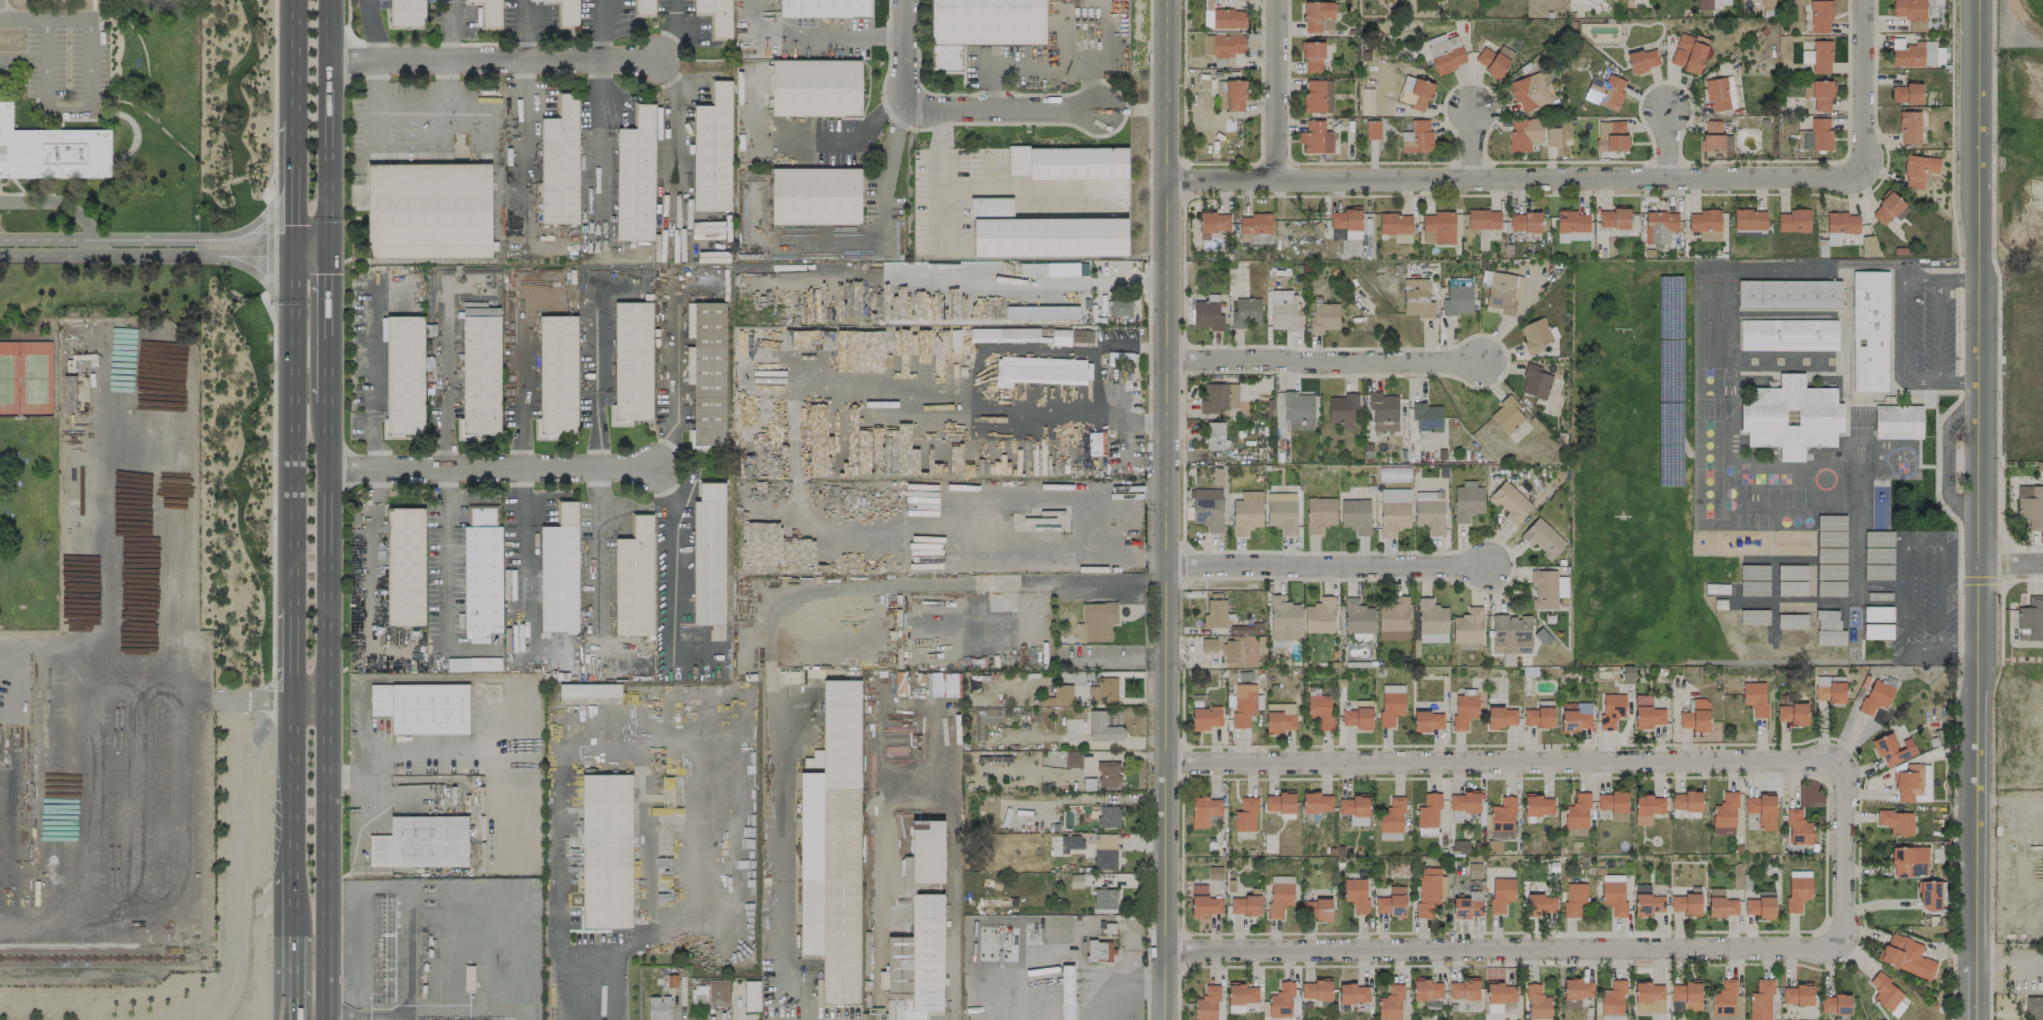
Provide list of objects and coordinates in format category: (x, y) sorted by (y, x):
building: (535, 0)
building: (1720, 3)
building: (1768, 3)
building: (1704, 4)
building: (643, 7)
building: (824, 8)
building: (1909, 9)
building: (407, 12)
building: (490, 12)
building: (566, 12)
building: (1820, 15)
building: (1318, 16)
building: (716, 17)
road: (44, 18)
building: (1224, 18)
building: (982, 26)
road: (455, 29)
road: (520, 29)
road: (600, 29)
road: (373, 30)
road: (846, 37)
road: (903, 38)
building: (1224, 44)
building: (1688, 52)
building: (1445, 53)
building: (1915, 53)
building: (1312, 56)
building: (1818, 56)
road: (493, 59)
building: (1493, 59)
building: (1642, 60)
parking lot: (66, 64)
road: (666, 80)
building: (817, 88)
road: (1863, 88)
road: (1277, 89)
building: (1605, 91)
building: (1417, 92)
building: (1529, 92)
building: (1719, 92)
building: (1906, 93)
building: (1230, 94)
building: (1318, 95)
building: (1821, 95)
road: (273, 97)
road: (991, 109)
road: (67, 111)
road: (417, 115)
road: (296, 122)
road: (327, 122)
building: (1910, 127)
building: (1372, 129)
road: (673, 130)
road: (812, 132)
building: (1524, 133)
building: (1611, 135)
building: (1815, 135)
road: (1951, 135)
building: (1552, 136)
building: (1316, 137)
building: (1417, 137)
building: (1715, 137)
road: (1472, 141)
road: (1669, 144)
park: (2018, 150)
building: (52, 151)
building: (713, 151)
building: (562, 162)
building: (1067, 162)
building: (1919, 170)
building: (636, 177)
road: (1515, 177)
road: (939, 178)
road: (1018, 185)
building: (816, 197)
road: (59, 202)
building: (1888, 208)
building: (429, 212)
building: (1613, 218)
building: (1483, 219)
building: (1749, 219)
building: (1793, 220)
building: (1524, 221)
building: (1347, 222)
building: (1212, 223)
building: (1395, 223)
building: (1705, 224)
building: (1572, 225)
building: (1840, 225)
road: (248, 226)
building: (1659, 226)
building: (1256, 227)
building: (1437, 227)
building: (1041, 232)
road: (147, 243)
road: (867, 244)
traffic signals: (295, 245)
road: (311, 245)
traffic signals: (327, 245)
building: (1869, 245)
road: (268, 246)
road: (148, 252)
road: (253, 272)
road: (1958, 279)
road: (1998, 290)
building: (1499, 291)
building: (1788, 293)
building: (1416, 298)
building: (1458, 299)
building: (1118, 307)
building: (1284, 311)
building: (1041, 312)
building: (1245, 312)
building: (1208, 315)
building: (1324, 317)
road: (327, 325)
road: (1901, 328)
road: (1939, 329)
road: (1958, 329)
building: (1869, 330)
parking lot: (1923, 330)
building: (1536, 334)
building: (1788, 334)
building: (1081, 336)
building: (1061, 337)
building: (941, 341)
road: (1448, 346)
building: (632, 360)
road: (1325, 360)
building: (689, 364)
building: (1041, 370)
building: (405, 374)
building: (708, 374)
building: (558, 375)
road: (445, 376)
building: (480, 376)
road: (598, 376)
road: (676, 376)
road: (369, 377)
road: (521, 377)
park: (25, 378)
road: (1101, 380)
road: (1959, 380)
building: (1535, 381)
road: (745, 383)
building: (1218, 396)
building: (1342, 409)
building: (1298, 410)
building: (1383, 411)
building: (1506, 415)
building: (1427, 416)
building: (1790, 416)
building: (1898, 421)
road: (293, 424)
building: (1214, 434)
building: (821, 443)
building: (764, 449)
road: (1947, 455)
road: (493, 466)
building: (918, 466)
park: (28, 472)
building: (1216, 476)
park: (1638, 476)
road: (273, 481)
road: (1936, 484)
building: (1467, 501)
building: (1510, 502)
building: (2031, 505)
building: (1037, 508)
building: (1207, 508)
road: (1170, 509)
road: (968, 510)
building: (1393, 510)
road: (1975, 510)
building: (1281, 511)
building: (1246, 512)
building: (1319, 513)
building: (1355, 515)
building: (1831, 530)
road: (1921, 536)
building: (773, 537)
building: (1543, 538)
road: (447, 554)
building: (708, 554)
building: (1831, 555)
building: (1878, 555)
road: (527, 562)
road: (1182, 563)
road: (2009, 563)
road: (1330, 565)
building: (405, 566)
building: (482, 569)
building: (560, 569)
building: (1753, 571)
building: (1831, 571)
building: (1791, 572)
road: (370, 574)
building: (633, 578)
road: (672, 579)
road: (1998, 579)
building: (513, 582)
road: (961, 582)
building: (1547, 588)
building: (1753, 588)
building: (1791, 588)
building: (1830, 588)
road: (1938, 592)
road: (1906, 593)
road: (2001, 602)
building: (1217, 613)
building: (1877, 613)
building: (1319, 615)
building: (1753, 616)
building: (1284, 619)
building: (1357, 619)
building: (1393, 619)
building: (2030, 619)
road: (1957, 620)
building: (1096, 621)
building: (1431, 621)
building: (1791, 621)
road: (836, 624)
building: (1467, 626)
road: (104, 628)
building: (1828, 628)
building: (1245, 629)
building: (1877, 631)
building: (1510, 633)
building: (477, 637)
building: (1208, 644)
road: (1956, 648)
road: (52, 649)
road: (1923, 649)
building: (1233, 651)
road: (292, 652)
building: (473, 663)
building: (943, 684)
building: (1829, 688)
building: (590, 690)
building: (1103, 691)
road: (271, 696)
building: (1755, 697)
building: (1875, 697)
building: (1391, 703)
building: (1244, 704)
building: (421, 707)
building: (1464, 708)
building: (1611, 709)
building: (1320, 710)
road: (327, 712)
building: (1646, 712)
building: (1791, 713)
building: (1695, 715)
building: (1538, 716)
building: (1574, 716)
building: (1112, 717)
building: (1205, 717)
building: (1280, 717)
building: (1357, 717)
building: (1501, 717)
building: (983, 720)
building: (1428, 720)
road: (513, 722)
building: (1103, 728)
road: (633, 738)
building: (1892, 748)
road: (434, 753)
building: (1073, 759)
road: (1489, 759)
road: (361, 773)
building: (1108, 774)
building: (1913, 783)
building: (1088, 784)
road: (292, 788)
building: (1685, 801)
building: (1280, 802)
building: (1317, 802)
building: (1463, 804)
building: (1613, 804)
building: (1538, 805)
building: (1355, 806)
building: (1647, 808)
building: (1204, 810)
building: (1762, 810)
building: (1577, 812)
building: (1724, 814)
building: (1245, 815)
building: (1428, 815)
building: (1109, 816)
building: (1391, 819)
building: (1502, 819)
building: (1896, 821)
road: (716, 825)
road: (779, 826)
building: (1798, 828)
road: (1952, 840)
building: (422, 842)
building: (1071, 842)
building: (831, 846)
building: (1459, 846)
building: (1493, 846)
road: (558, 850)
building: (927, 851)
building: (1104, 851)
building: (607, 852)
road: (1843, 852)
building: (1909, 861)
road: (101, 864)
building: (1474, 870)
building: (1214, 872)
building: (1075, 880)
road: (951, 885)
building: (1798, 889)
building: (1429, 890)
building: (1501, 893)
building: (1613, 893)
building: (1279, 894)
building: (1356, 894)
building: (1929, 895)
building: (1104, 898)
building: (1574, 898)
building: (1646, 900)
building: (1392, 902)
road: (292, 903)
building: (1686, 903)
building: (1541, 904)
building: (1721, 904)
building: (1206, 905)
building: (1245, 905)
building: (1468, 905)
building: (1760, 905)
road: (641, 945)
road: (1487, 947)
railway: (98, 950)
building: (926, 951)
building: (1099, 951)
building: (1906, 955)
railway: (100, 958)
road: (2022, 959)
road: (1988, 960)
road: (291, 976)
road: (613, 986)
road: (1127, 989)
building: (1427, 989)
building: (1463, 989)
building: (1315, 990)
building: (818, 991)
building: (717, 992)
building: (1067, 992)
building: (1501, 992)
building: (1576, 992)
building: (1353, 993)
building: (1646, 994)
building: (1797, 994)
building: (1886, 994)
building: (751, 995)
building: (1240, 996)
building: (1685, 996)
building: (1281, 1000)
building: (1760, 1000)
building: (1612, 1001)
building: (1725, 1001)
building: (1390, 1003)
building: (1537, 1003)
building: (1206, 1004)
building: (1835, 1004)
building: (658, 1007)
building: (2034, 1007)

